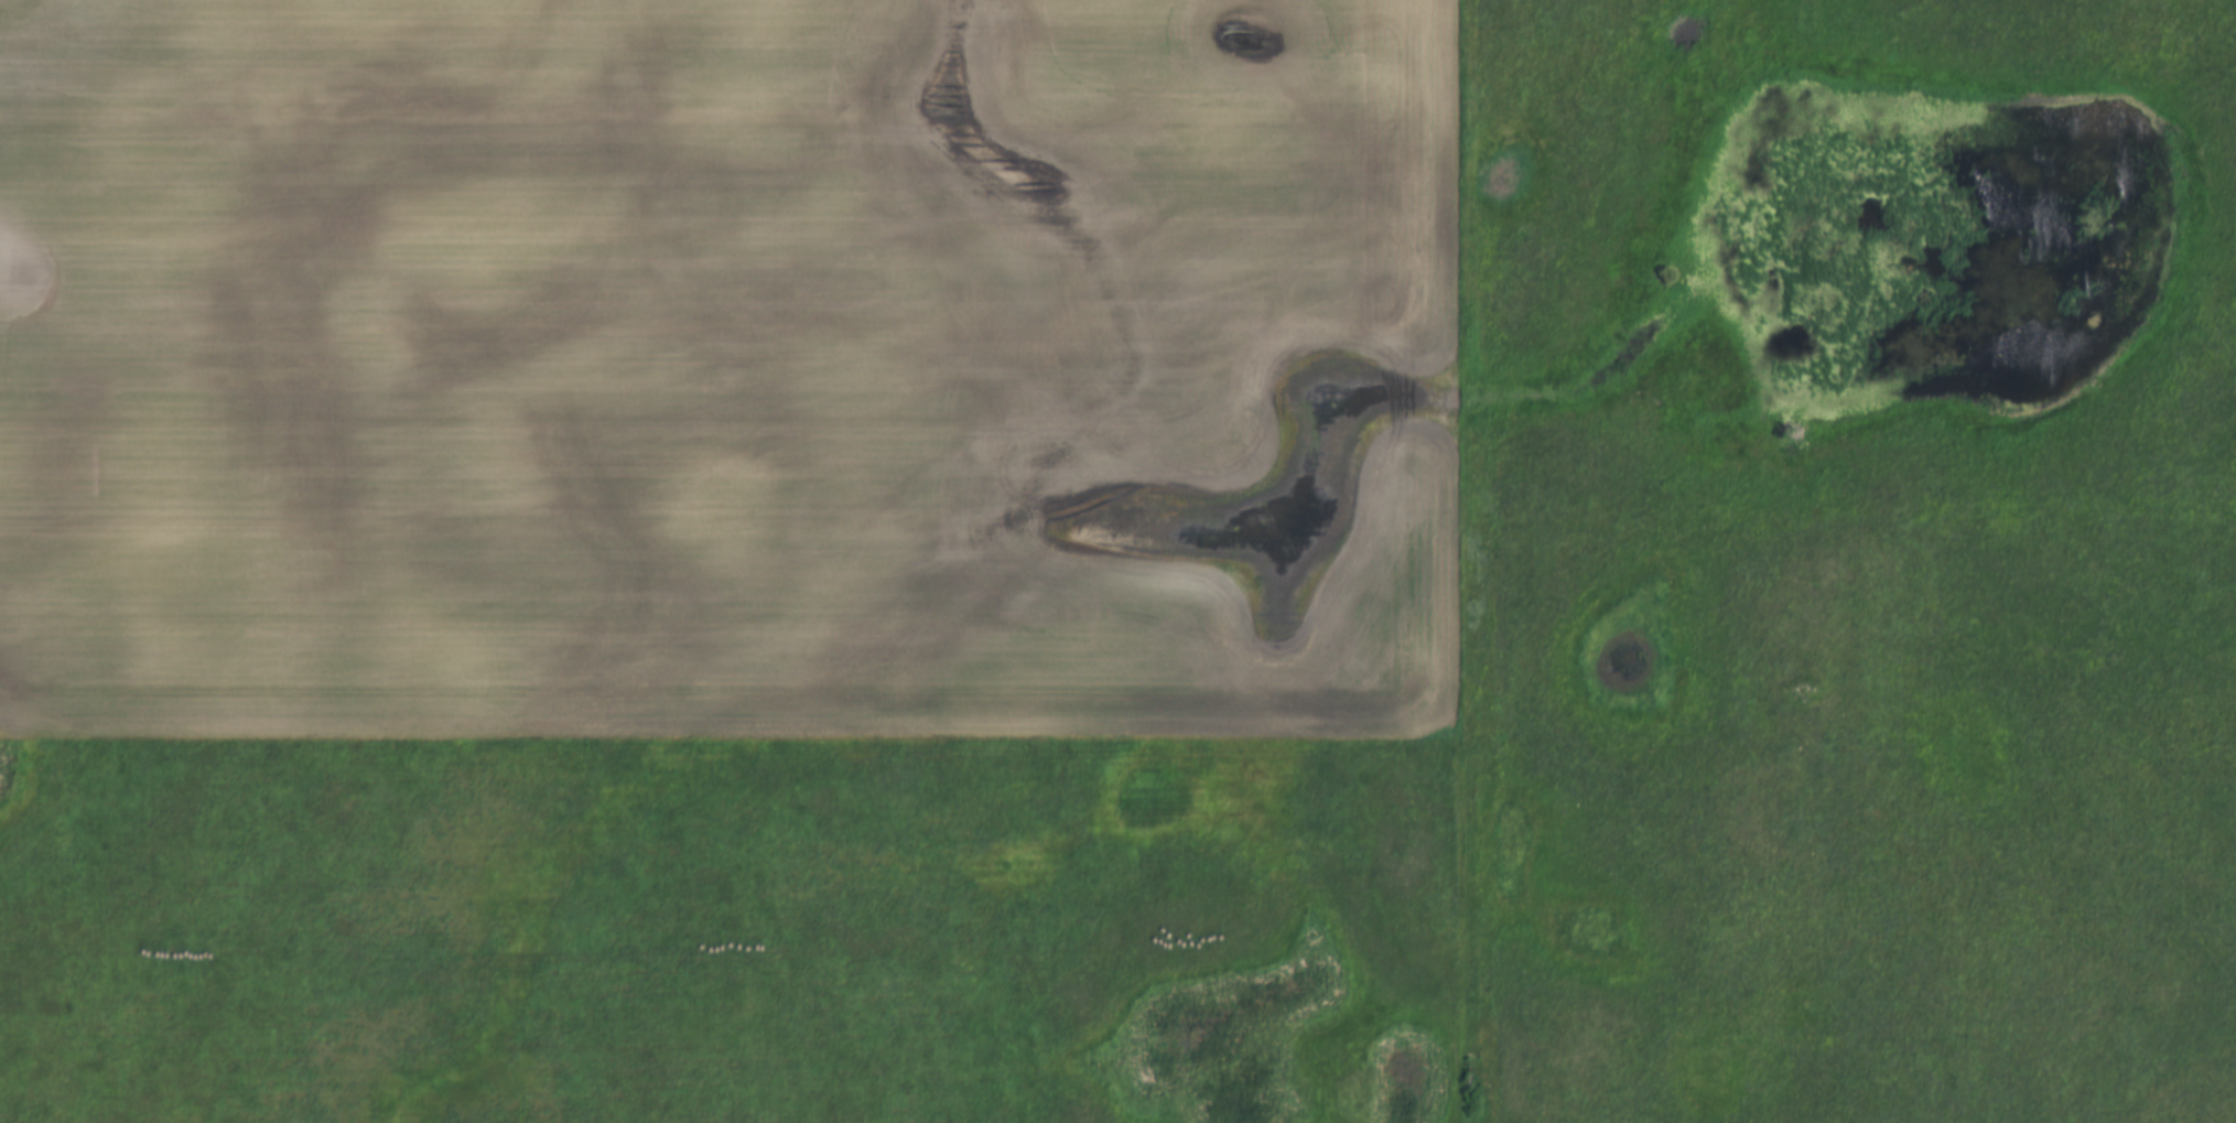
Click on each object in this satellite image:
road: (1468, 561)

